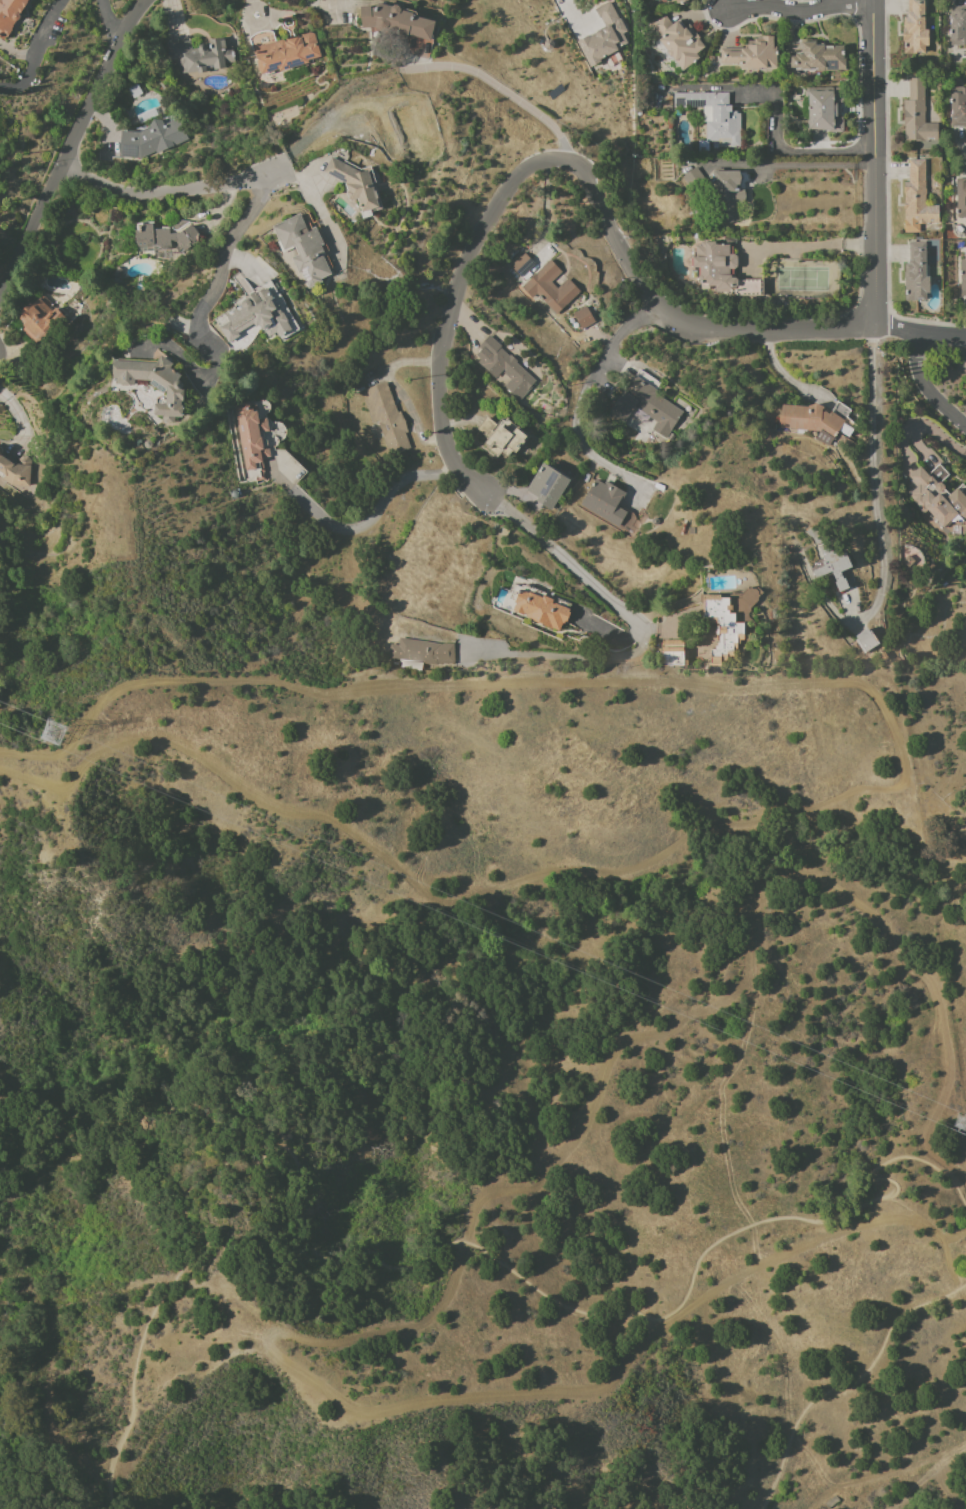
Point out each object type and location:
road: (559, 0)
building: (680, 1)
road: (325, 7)
road: (798, 10)
building: (11, 16)
building: (399, 23)
road: (106, 24)
building: (959, 26)
building: (918, 29)
building: (607, 37)
building: (681, 43)
road: (36, 52)
building: (290, 54)
building: (755, 56)
building: (204, 57)
building: (820, 59)
road: (873, 72)
road: (500, 85)
building: (959, 108)
building: (827, 110)
building: (920, 115)
building: (717, 120)
road: (322, 123)
building: (155, 141)
road: (782, 148)
road: (66, 150)
road: (820, 164)
building: (697, 180)
building: (357, 185)
road: (166, 193)
road: (872, 193)
building: (731, 195)
building: (962, 199)
building: (920, 200)
road: (316, 205)
road: (617, 235)
building: (167, 240)
building: (306, 250)
building: (525, 266)
building: (726, 272)
building: (919, 274)
building: (964, 278)
road: (872, 284)
building: (553, 289)
road: (211, 290)
building: (259, 318)
building: (586, 319)
building: (44, 321)
road: (785, 330)
road: (893, 332)
road: (448, 334)
road: (618, 335)
road: (940, 337)
building: (511, 364)
road: (783, 374)
building: (157, 385)
road: (926, 388)
building: (105, 393)
building: (648, 408)
building: (390, 420)
building: (814, 422)
building: (251, 435)
building: (507, 437)
road: (579, 443)
road: (871, 465)
building: (16, 471)
building: (550, 488)
building: (940, 500)
building: (608, 503)
road: (371, 515)
road: (562, 561)
building: (911, 562)
building: (965, 562)
building: (837, 568)
building: (544, 611)
building: (718, 625)
building: (870, 642)
building: (424, 653)
building: (675, 654)
road: (575, 658)
road: (157, 679)
power tower: (45, 731)
power tower: (960, 1124)
road: (444, 1248)
road: (848, 1382)
road: (927, 1477)

